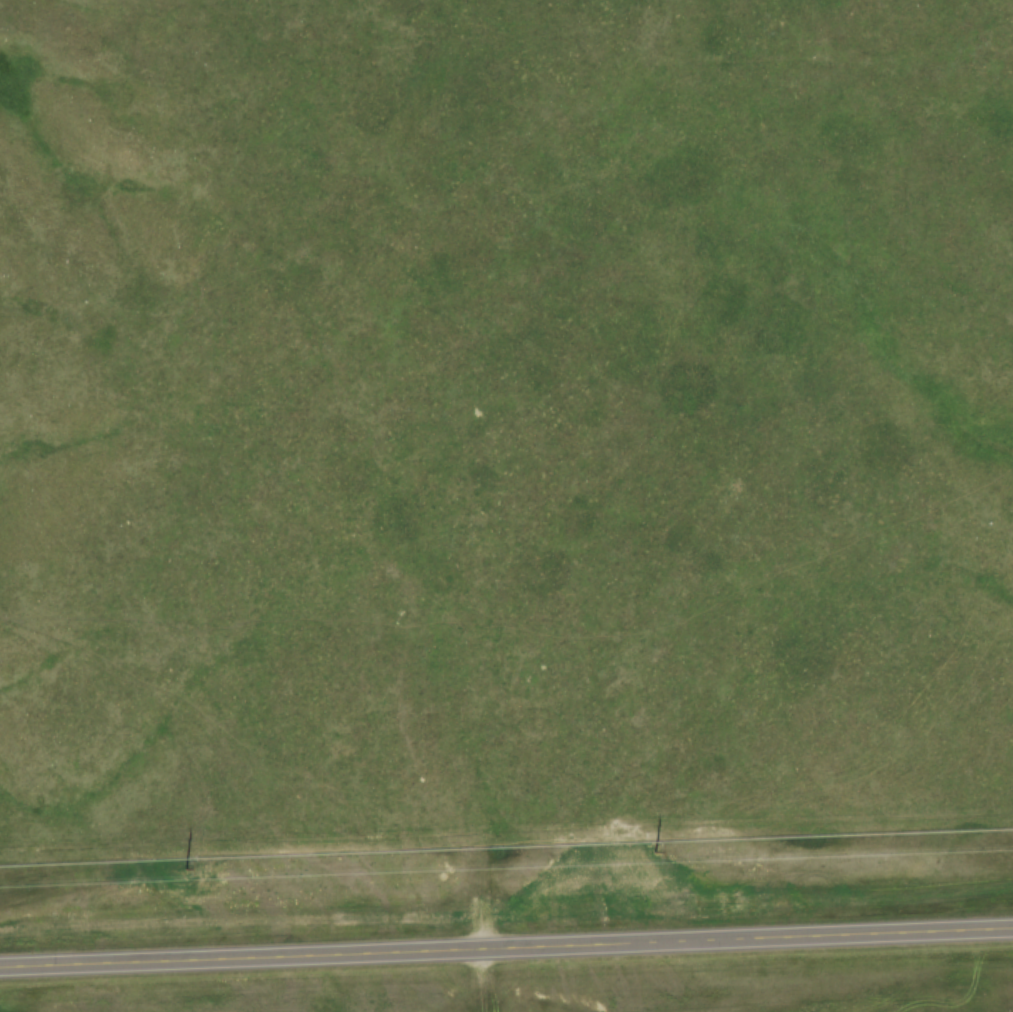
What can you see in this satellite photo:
power tower: (654, 851)
power tower: (185, 867)
road: (506, 949)

